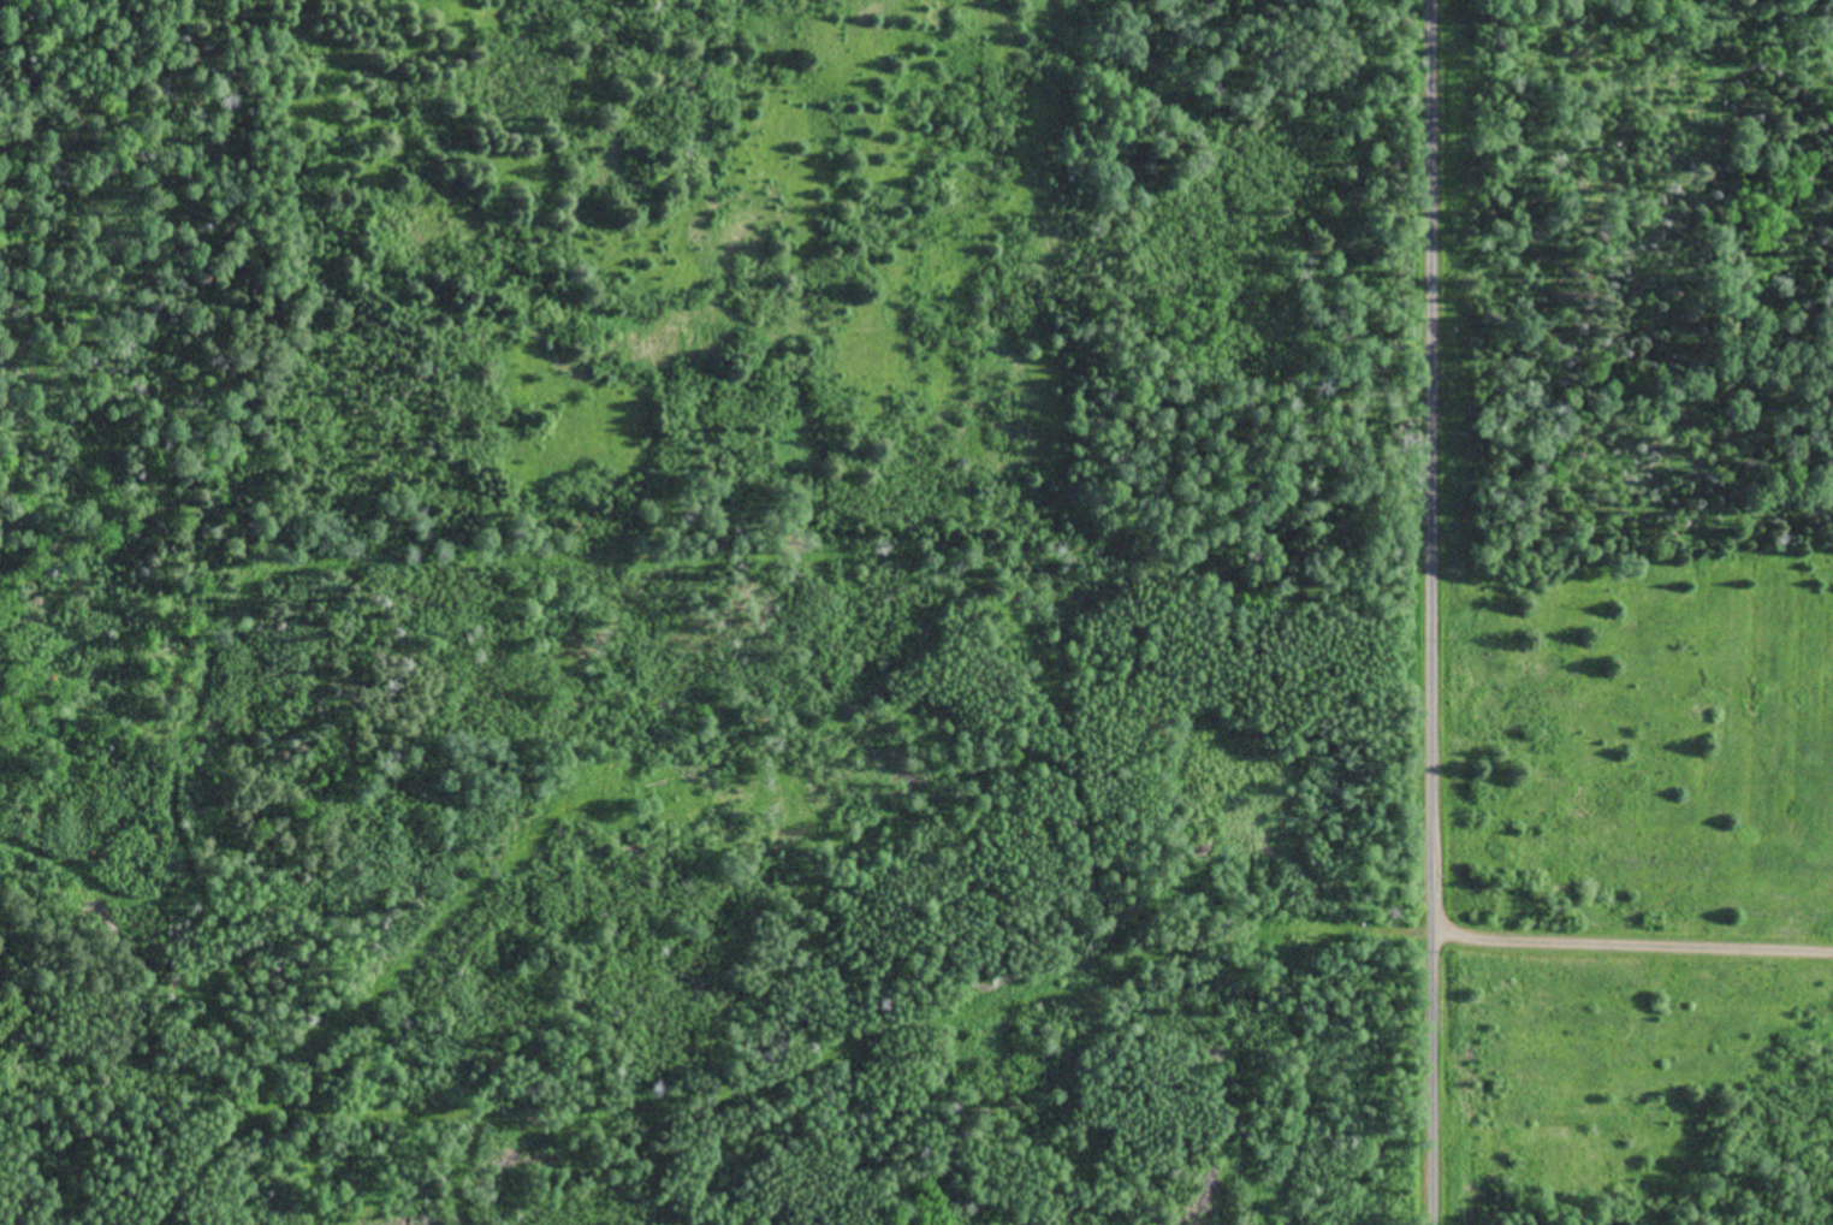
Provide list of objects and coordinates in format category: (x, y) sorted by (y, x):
road: (1431, 611)
road: (1632, 945)

